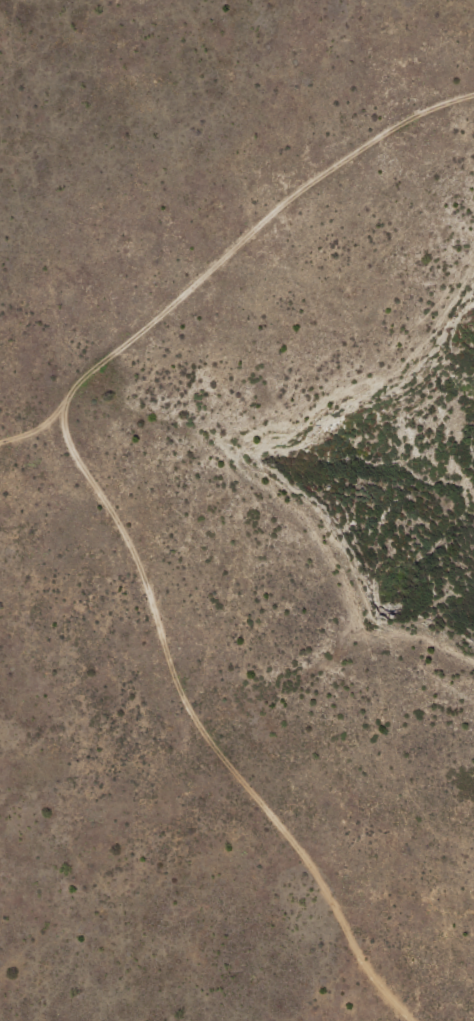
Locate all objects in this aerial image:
road: (47, 545)

